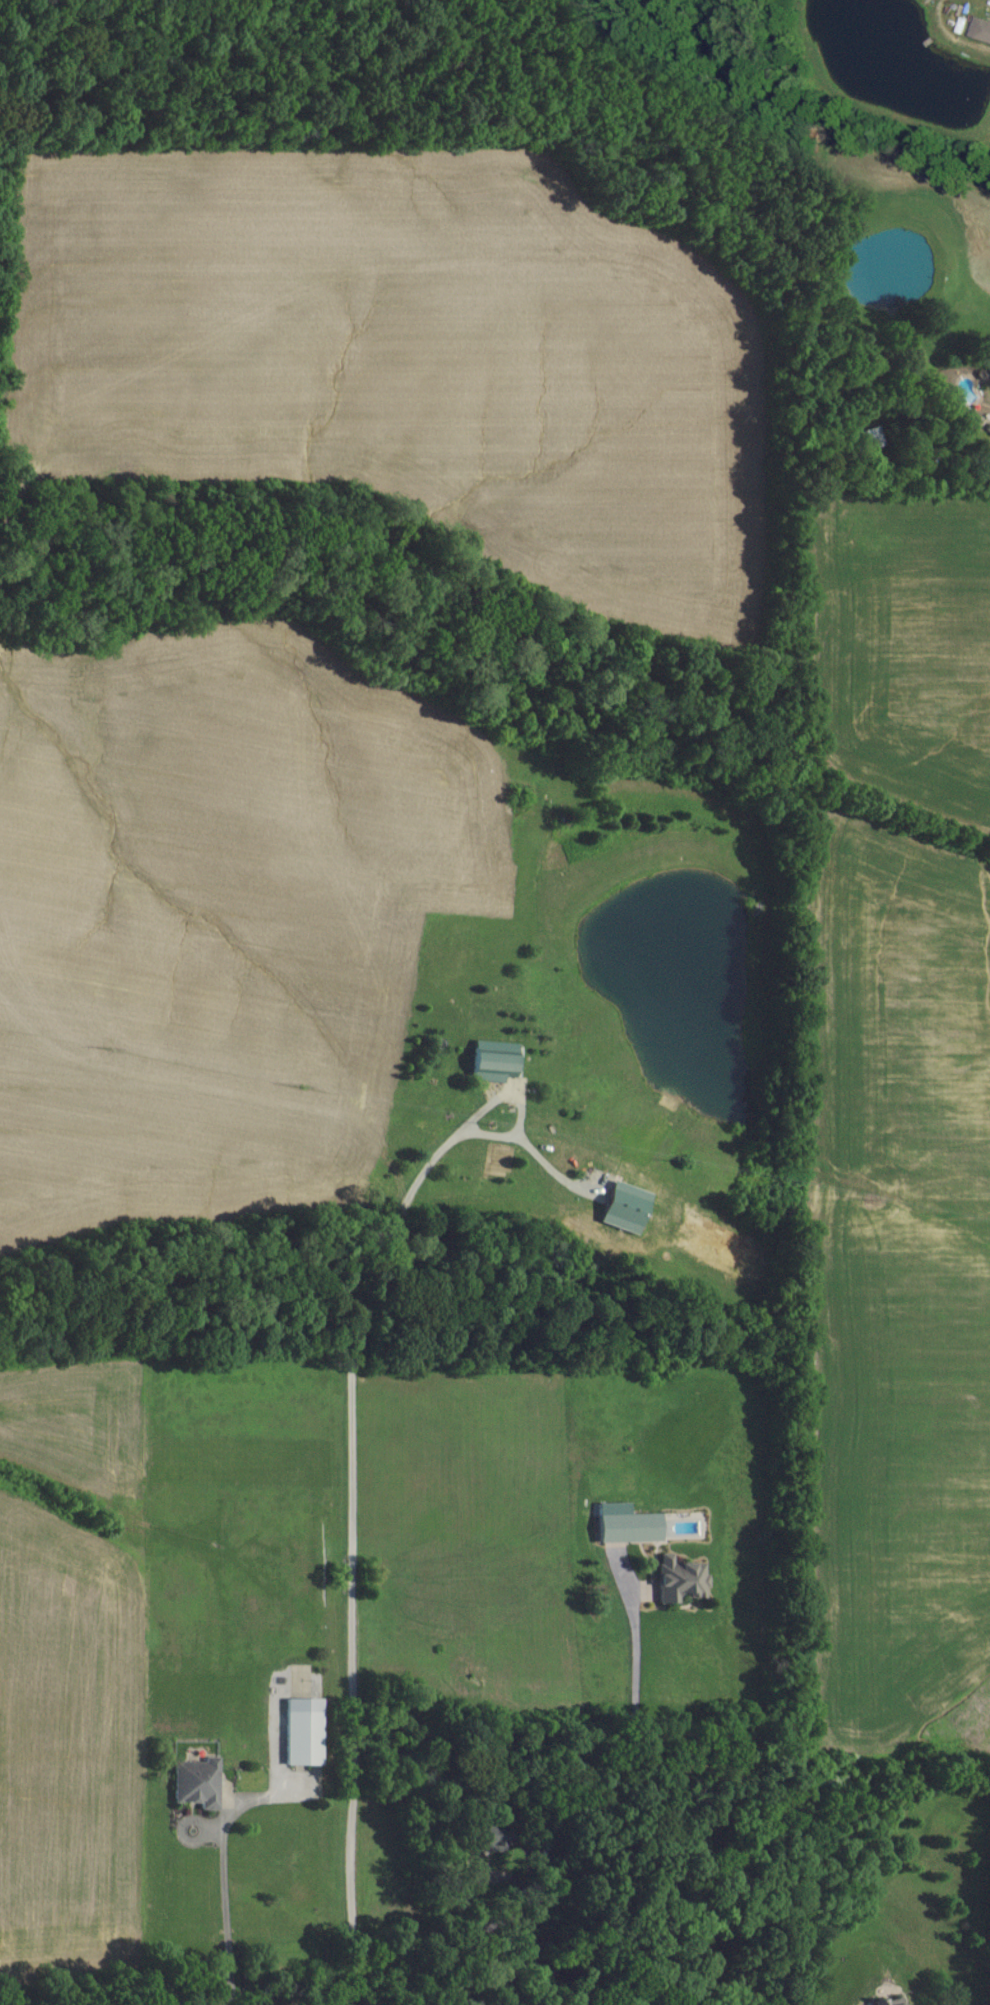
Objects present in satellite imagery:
building: (981, 29)
building: (866, 438)
building: (492, 1066)
road: (516, 1108)
road: (552, 1169)
building: (623, 1206)
building: (625, 1523)
road: (349, 1548)
building: (680, 1578)
building: (304, 1730)
building: (196, 1782)
road: (678, 1791)
building: (486, 1839)
road: (509, 1878)
road: (222, 1913)
road: (491, 1965)
building: (888, 2001)

